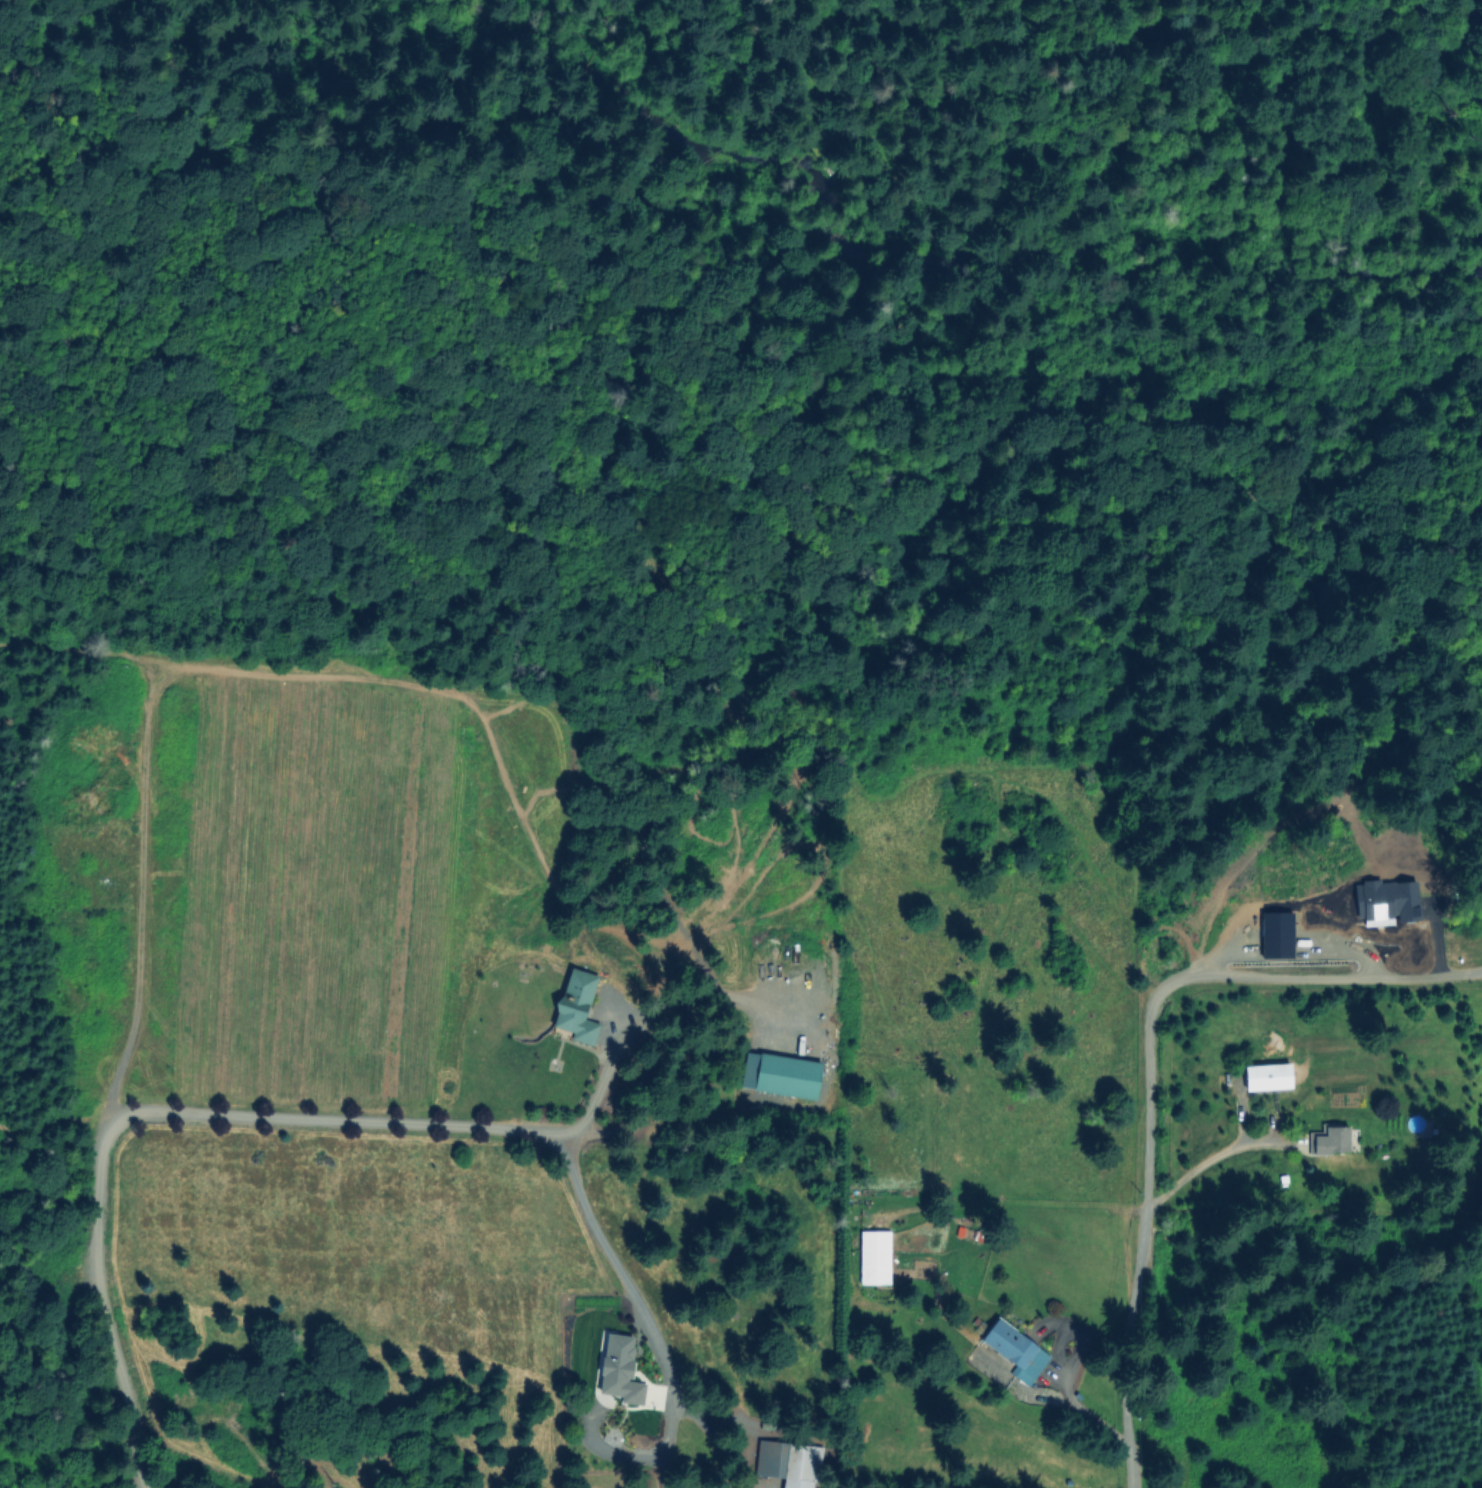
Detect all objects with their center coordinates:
road: (1420, 17)
road: (1211, 977)
building: (579, 1008)
road: (637, 1015)
building: (788, 1077)
building: (1270, 1077)
road: (145, 1110)
building: (1296, 1111)
building: (1333, 1141)
road: (1208, 1163)
building: (874, 1256)
road: (617, 1269)
building: (630, 1343)
road: (1125, 1346)
building: (1018, 1350)
building: (774, 1459)

